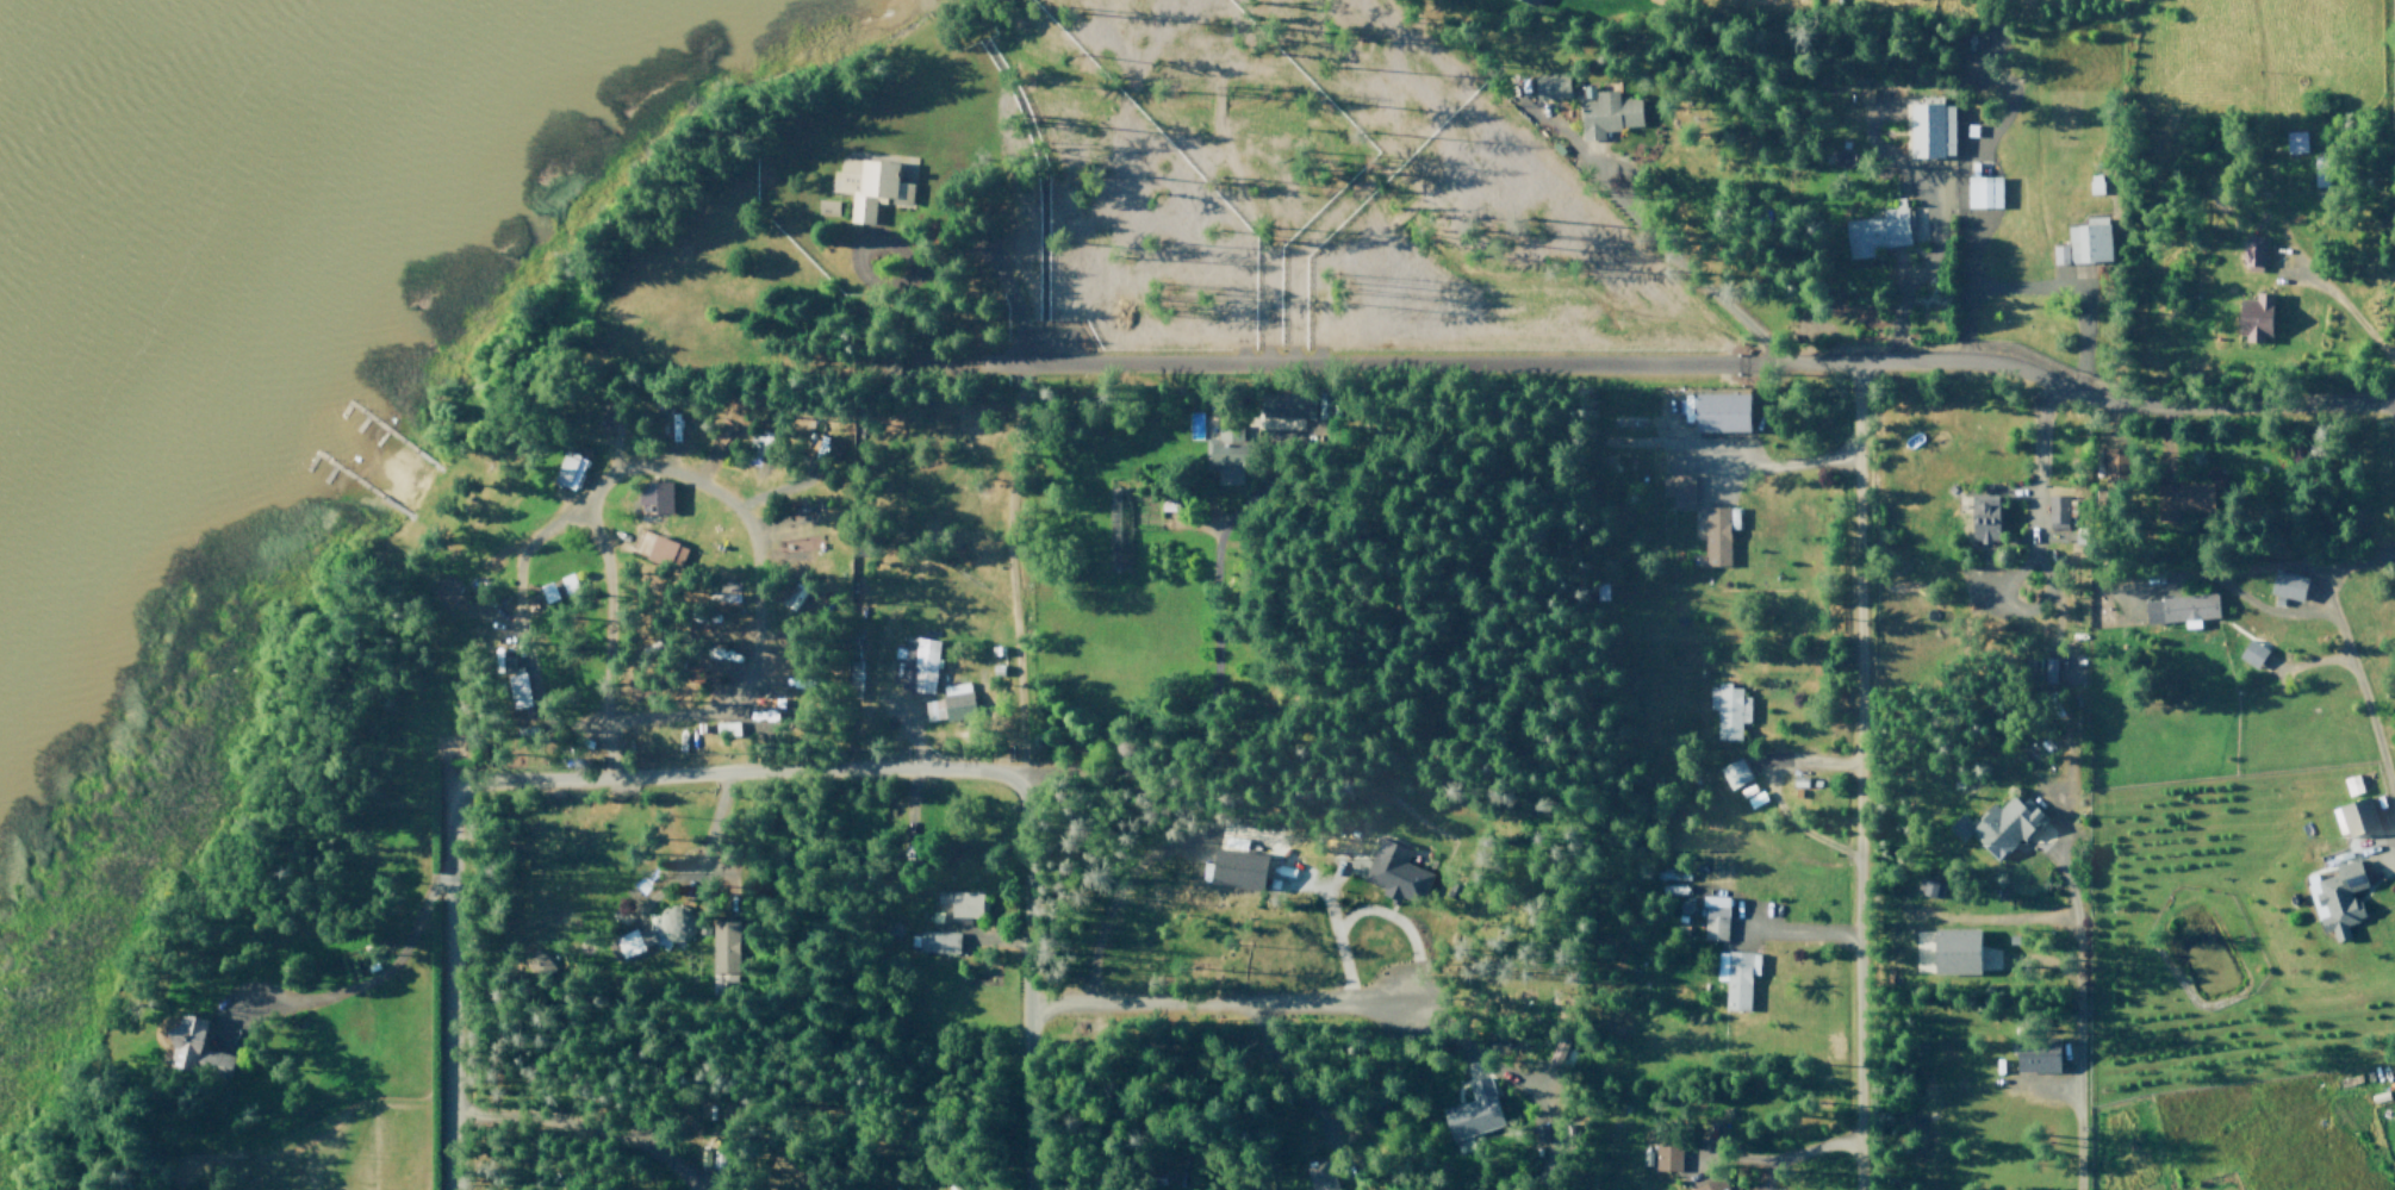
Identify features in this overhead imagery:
building: (1542, 1)
building: (1530, 2)
building: (1964, 57)
building: (1549, 89)
building: (1584, 93)
building: (1607, 116)
road: (2002, 118)
building: (1930, 131)
building: (2294, 143)
road: (1937, 166)
building: (2319, 181)
building: (877, 185)
building: (1982, 192)
building: (829, 206)
building: (1875, 237)
road: (1661, 238)
road: (1444, 241)
building: (2085, 248)
building: (2250, 253)
road: (1349, 291)
road: (2072, 292)
road: (2340, 305)
building: (2254, 317)
road: (504, 351)
road: (1228, 362)
road: (2064, 387)
building: (1717, 412)
building: (1287, 418)
road: (2116, 425)
building: (732, 434)
road: (2160, 446)
building: (1218, 456)
road: (1014, 460)
road: (1774, 468)
building: (2114, 468)
building: (565, 471)
road: (701, 472)
road: (686, 482)
building: (1676, 492)
building: (658, 497)
building: (2182, 503)
building: (2059, 513)
building: (1985, 516)
building: (1118, 530)
road: (777, 534)
building: (1718, 535)
road: (1217, 543)
building: (670, 550)
building: (792, 552)
road: (2313, 566)
road: (595, 574)
building: (568, 584)
road: (2103, 584)
building: (2284, 587)
building: (547, 594)
road: (2321, 599)
building: (2178, 609)
road: (610, 610)
road: (521, 617)
building: (2257, 623)
building: (2251, 654)
road: (2350, 660)
road: (2310, 661)
building: (917, 665)
building: (2045, 669)
building: (508, 693)
building: (947, 703)
building: (1729, 706)
building: (730, 727)
road: (912, 741)
building: (1735, 774)
road: (722, 775)
road: (1855, 775)
building: (1800, 781)
building: (1817, 783)
road: (1766, 791)
building: (2356, 811)
building: (1998, 827)
road: (2045, 848)
road: (2387, 856)
road: (695, 867)
building: (1391, 868)
road: (713, 870)
road: (1332, 871)
building: (1236, 872)
building: (1931, 886)
road: (1317, 887)
road: (2067, 887)
building: (2341, 890)
building: (957, 908)
road: (1363, 909)
building: (1715, 914)
road: (1961, 916)
building: (673, 923)
road: (1793, 927)
road: (175, 934)
building: (937, 941)
road: (996, 942)
building: (626, 945)
building: (726, 946)
building: (1949, 952)
building: (1736, 976)
road: (1024, 978)
road: (355, 989)
road: (446, 993)
road: (1282, 1011)
building: (195, 1045)
building: (2040, 1052)
building: (1560, 1054)
road: (2054, 1086)
building: (2394, 1097)
building: (1472, 1113)
road: (583, 1117)
building: (1663, 1158)
road: (1765, 1164)
road: (1762, 1175)
building: (1317, 1176)
building: (1710, 1183)
building: (1740, 1189)

